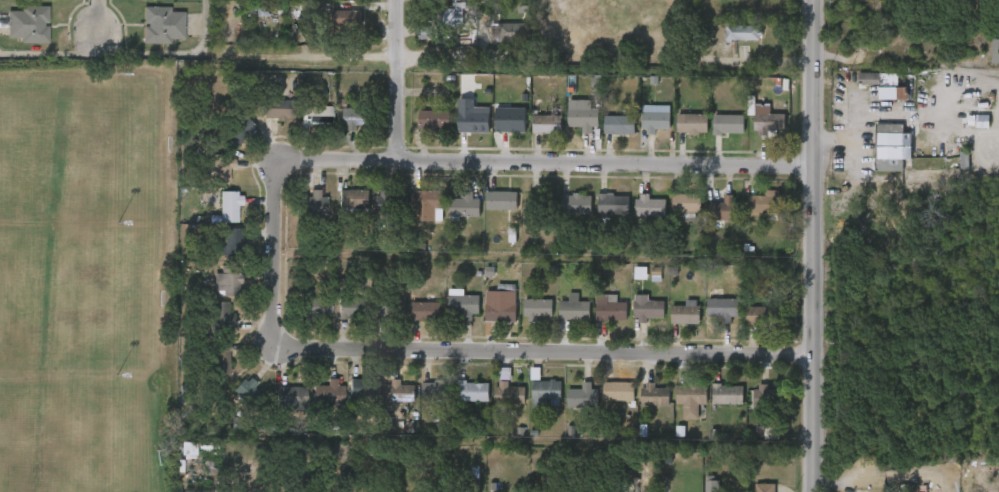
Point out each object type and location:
building: (349, 18)
building: (445, 20)
building: (27, 23)
building: (163, 23)
road: (97, 26)
building: (513, 32)
building: (742, 32)
building: (995, 51)
road: (124, 53)
road: (306, 62)
road: (404, 80)
building: (885, 85)
building: (278, 109)
building: (317, 116)
building: (583, 116)
building: (507, 117)
building: (473, 118)
building: (358, 119)
building: (434, 120)
building: (656, 121)
building: (767, 121)
building: (693, 123)
building: (547, 124)
building: (728, 124)
building: (620, 125)
building: (238, 131)
road: (840, 137)
building: (887, 146)
park: (76, 147)
road: (549, 164)
building: (220, 170)
building: (428, 199)
building: (353, 200)
building: (389, 201)
building: (502, 201)
building: (764, 202)
building: (309, 203)
building: (538, 203)
building: (576, 203)
building: (686, 203)
building: (612, 204)
building: (465, 206)
building: (650, 206)
building: (229, 207)
building: (725, 209)
building: (231, 242)
road: (814, 245)
building: (640, 273)
park: (87, 276)
building: (226, 281)
park: (73, 297)
building: (501, 306)
building: (465, 307)
building: (313, 308)
building: (352, 308)
building: (723, 309)
building: (388, 310)
building: (538, 310)
building: (574, 310)
building: (611, 310)
building: (426, 311)
building: (649, 311)
building: (685, 313)
building: (760, 316)
building: (222, 318)
road: (456, 350)
building: (218, 359)
building: (243, 389)
building: (327, 392)
building: (435, 392)
building: (473, 392)
building: (545, 392)
building: (619, 392)
building: (402, 393)
building: (509, 393)
building: (654, 395)
building: (728, 395)
building: (582, 397)
building: (290, 398)
building: (692, 399)
building: (771, 399)
building: (358, 400)
park: (74, 439)
building: (711, 484)
building: (627, 487)
building: (764, 488)
building: (922, 491)

